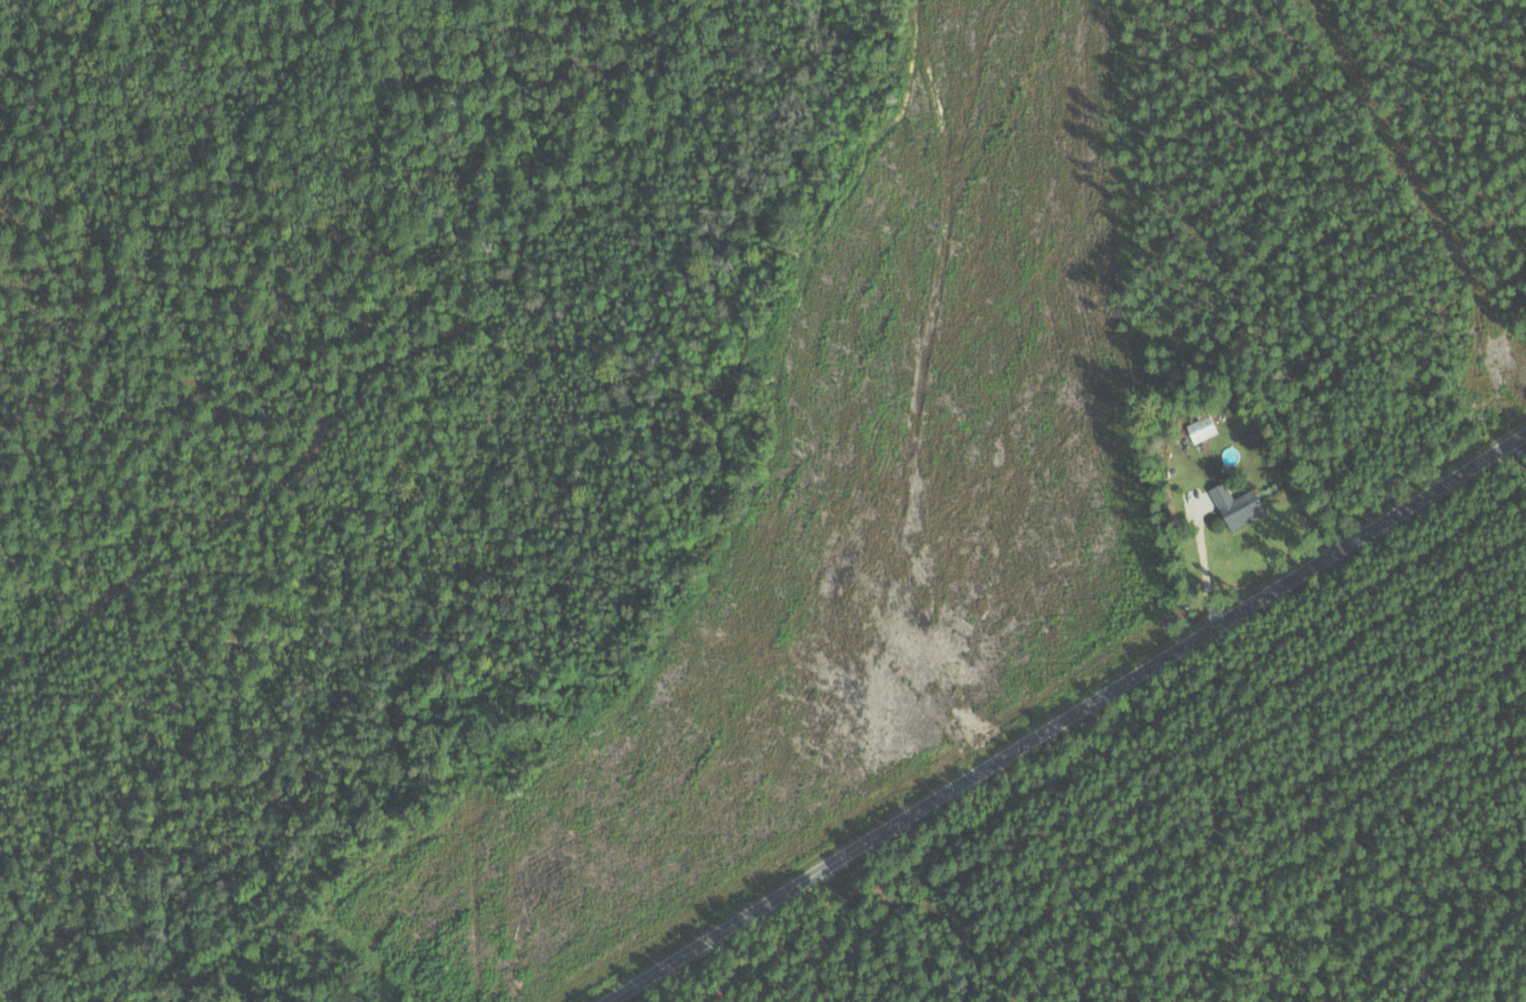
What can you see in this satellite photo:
building: (1201, 428)
building: (1237, 506)
road: (1070, 718)

